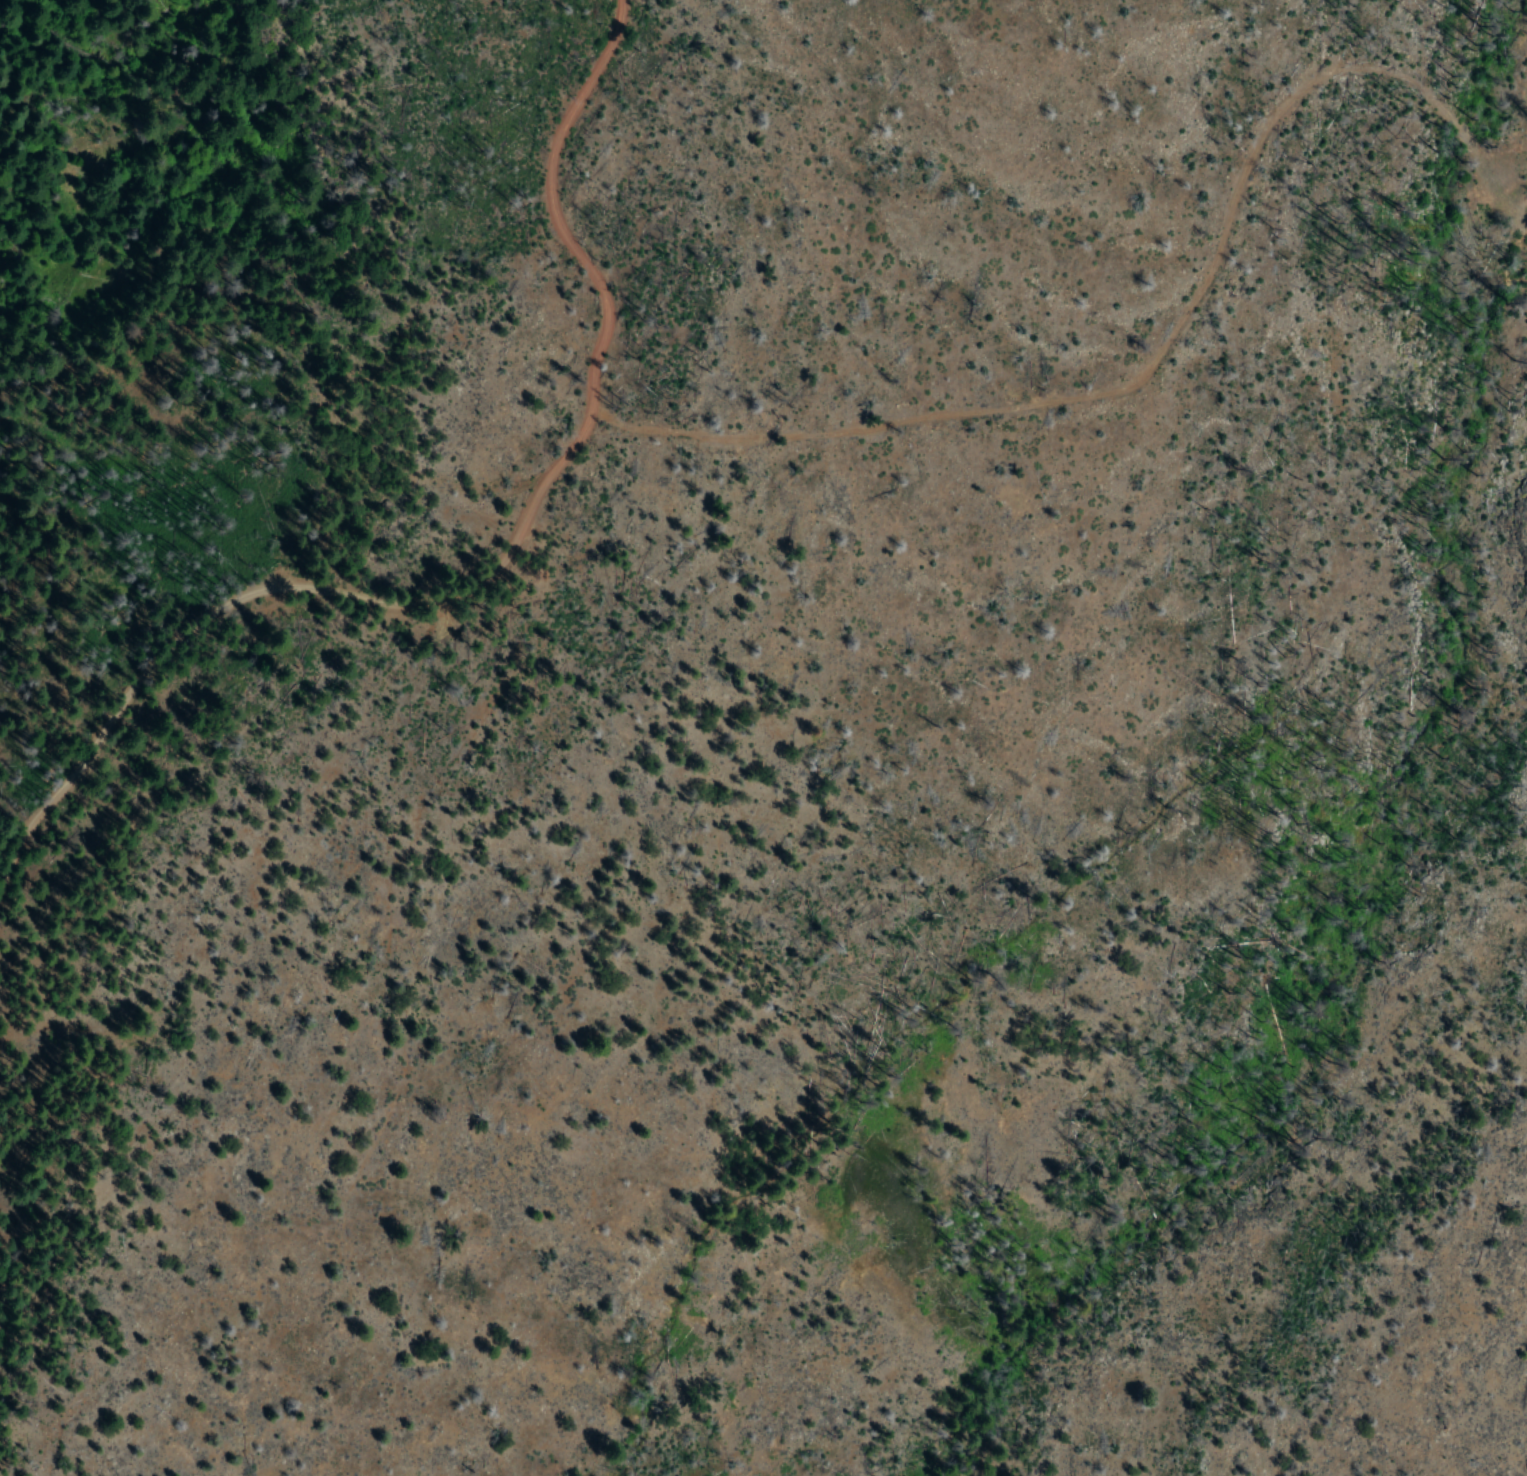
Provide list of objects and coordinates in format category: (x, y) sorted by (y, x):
road: (1157, 328)
road: (594, 418)
road: (458, 597)

